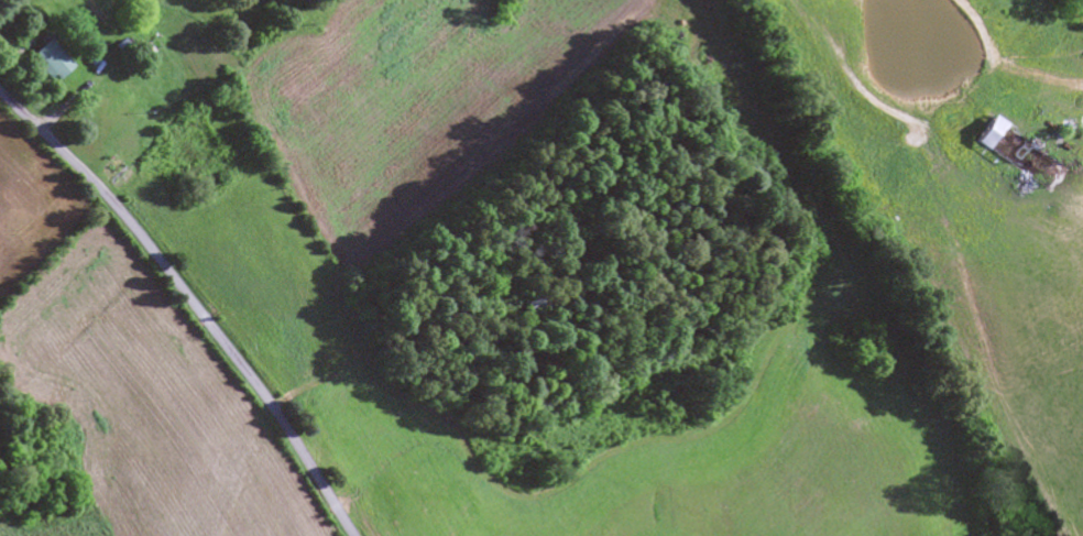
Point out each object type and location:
building: (47, 62)
building: (1013, 152)
road: (190, 302)
building: (529, 304)

